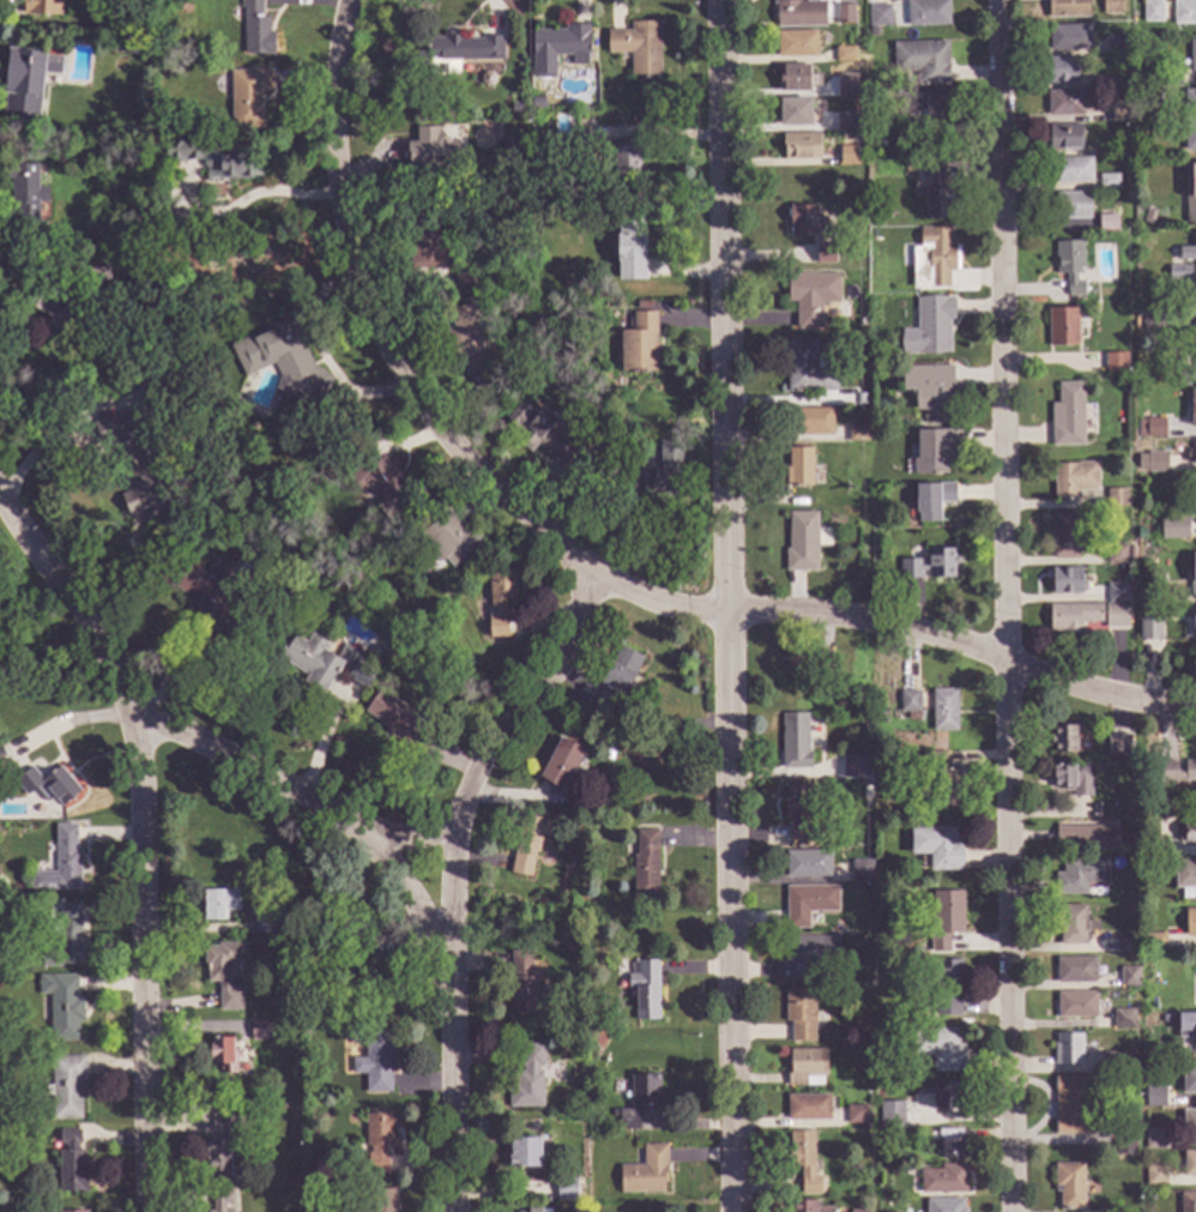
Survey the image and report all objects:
building: (1111, 7)
building: (42, 8)
building: (1067, 8)
building: (1152, 11)
building: (1184, 12)
building: (928, 13)
building: (799, 14)
building: (845, 14)
building: (878, 17)
building: (256, 30)
building: (872, 34)
building: (1069, 38)
building: (563, 43)
building: (132, 44)
building: (797, 44)
building: (638, 47)
building: (1116, 47)
building: (459, 53)
building: (845, 55)
building: (1192, 55)
building: (923, 61)
building: (1062, 71)
building: (487, 79)
building: (798, 79)
building: (1170, 80)
building: (26, 82)
building: (1103, 83)
building: (847, 85)
building: (248, 97)
building: (1064, 103)
building: (925, 105)
building: (515, 109)
building: (1119, 111)
building: (795, 113)
building: (1190, 121)
building: (846, 122)
building: (167, 123)
building: (1064, 138)
building: (582, 140)
building: (882, 143)
building: (534, 145)
building: (801, 146)
building: (508, 147)
building: (429, 151)
building: (217, 159)
building: (623, 159)
building: (846, 159)
building: (908, 169)
building: (1071, 171)
building: (1107, 182)
building: (1190, 193)
building: (936, 194)
building: (24, 197)
road: (250, 199)
building: (1073, 206)
building: (805, 222)
building: (1107, 223)
building: (91, 236)
building: (424, 242)
building: (630, 249)
building: (1188, 253)
building: (824, 254)
building: (934, 259)
building: (1070, 266)
building: (95, 271)
building: (1179, 273)
building: (467, 279)
road: (29, 284)
building: (1191, 295)
building: (811, 297)
building: (56, 307)
building: (1149, 320)
building: (1063, 327)
building: (929, 328)
building: (467, 338)
building: (640, 344)
building: (1195, 350)
building: (282, 361)
building: (1116, 363)
building: (807, 369)
building: (1186, 378)
building: (491, 379)
building: (152, 388)
road: (413, 390)
building: (930, 392)
building: (1191, 410)
building: (1068, 416)
building: (809, 422)
building: (1154, 429)
building: (857, 432)
building: (544, 438)
building: (932, 452)
building: (1194, 453)
building: (129, 462)
building: (1152, 462)
building: (799, 469)
building: (610, 470)
building: (664, 472)
building: (1074, 480)
building: (376, 481)
building: (1116, 499)
building: (932, 501)
building: (1176, 530)
building: (1064, 537)
building: (447, 538)
building: (802, 543)
building: (1131, 554)
building: (1117, 555)
building: (930, 566)
building: (1194, 577)
building: (1067, 581)
building: (1117, 595)
building: (215, 597)
building: (1142, 598)
building: (500, 602)
road: (730, 605)
road: (1008, 605)
building: (1116, 616)
building: (1073, 617)
building: (1194, 622)
building: (1149, 628)
road: (965, 650)
building: (393, 651)
building: (409, 652)
building: (315, 662)
building: (805, 663)
building: (361, 674)
building: (616, 679)
building: (910, 703)
building: (943, 711)
road: (72, 722)
building: (399, 724)
building: (1063, 740)
building: (795, 742)
building: (1119, 744)
building: (936, 759)
building: (561, 765)
building: (854, 768)
building: (1176, 772)
building: (1073, 780)
building: (48, 786)
building: (947, 786)
building: (1160, 808)
building: (1130, 809)
building: (798, 810)
road: (334, 815)
road: (141, 830)
building: (1188, 833)
building: (1088, 838)
road: (416, 843)
building: (528, 843)
building: (937, 849)
building: (61, 864)
building: (807, 866)
building: (645, 867)
road: (454, 870)
building: (860, 873)
building: (1080, 876)
building: (1185, 879)
building: (219, 904)
building: (808, 904)
building: (264, 921)
building: (944, 921)
building: (1190, 924)
building: (1073, 925)
building: (65, 940)
building: (1154, 942)
building: (1126, 947)
building: (809, 955)
building: (1075, 971)
building: (224, 973)
building: (948, 975)
building: (1147, 975)
building: (362, 976)
building: (1129, 977)
building: (2, 981)
building: (521, 985)
building: (645, 990)
building: (1076, 1006)
building: (62, 1007)
building: (310, 1007)
building: (944, 1007)
building: (801, 1015)
building: (1164, 1018)
building: (1123, 1020)
building: (1186, 1029)
building: (260, 1031)
building: (940, 1049)
building: (1068, 1050)
building: (221, 1051)
building: (374, 1059)
building: (1150, 1060)
building: (1111, 1063)
building: (807, 1068)
building: (527, 1080)
building: (1189, 1081)
building: (67, 1087)
building: (947, 1097)
building: (1154, 1098)
building: (638, 1101)
building: (1073, 1107)
building: (808, 1109)
building: (856, 1115)
building: (892, 1118)
building: (1189, 1123)
building: (2, 1133)
building: (932, 1138)
building: (1155, 1140)
building: (377, 1142)
building: (1124, 1144)
building: (950, 1145)
building: (225, 1146)
building: (524, 1153)
building: (804, 1163)
building: (72, 1164)
building: (1189, 1164)
building: (913, 1168)
building: (646, 1172)
building: (1154, 1177)
building: (943, 1181)
building: (1069, 1187)
building: (566, 1190)
building: (222, 1200)
building: (382, 1200)
building: (1188, 1202)
building: (803, 1206)
building: (944, 1206)
building: (77, 1211)
building: (528, 1211)
building: (862, 1211)
building: (1106, 1211)

